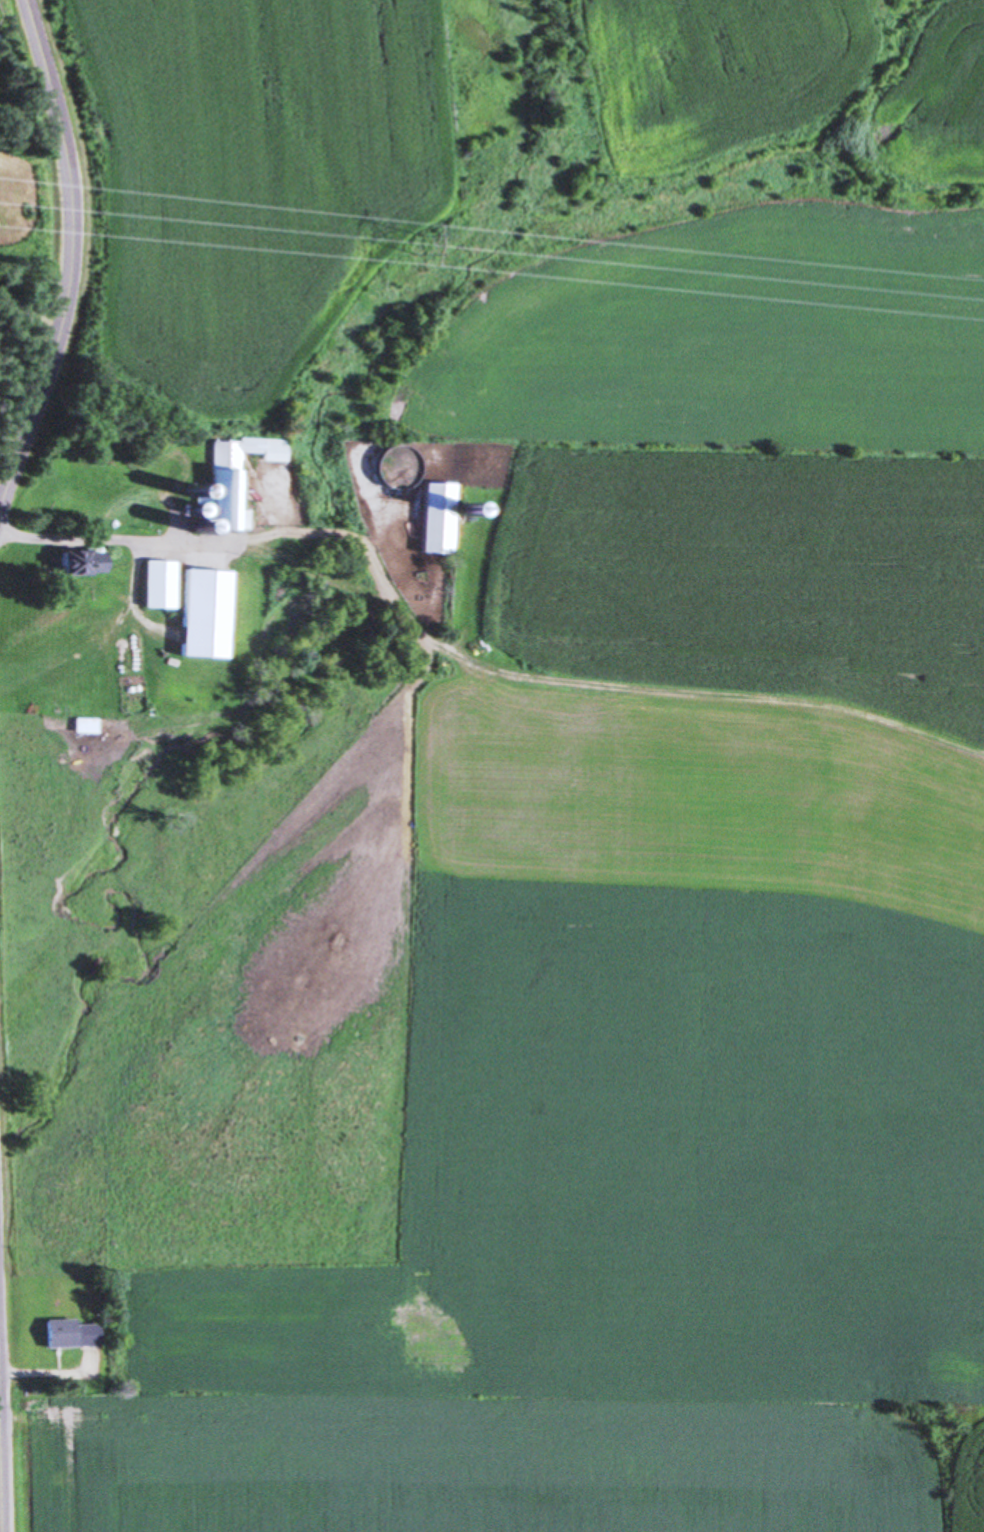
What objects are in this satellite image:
power tower: (412, 246)
road: (71, 256)
building: (392, 469)
building: (232, 478)
building: (435, 518)
road: (94, 533)
building: (81, 554)
building: (158, 576)
building: (204, 606)
building: (71, 1330)
road: (0, 1502)

